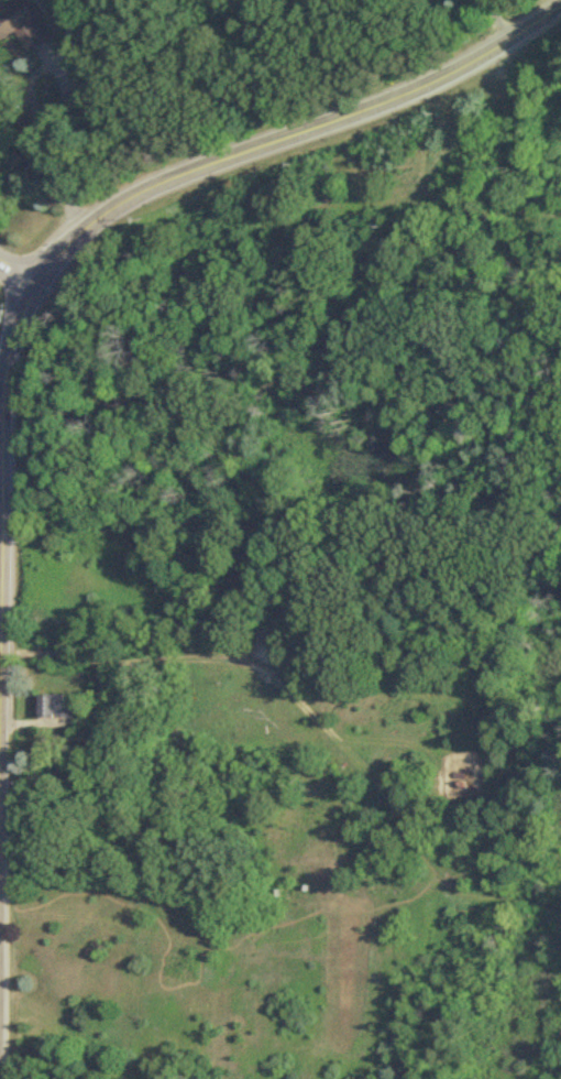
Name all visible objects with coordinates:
road: (496, 18)
building: (28, 24)
road: (52, 152)
road: (18, 276)
road: (10, 378)
road: (3, 547)
road: (3, 646)
park: (327, 646)
building: (57, 707)
road: (2, 710)
road: (309, 711)
road: (1, 860)
road: (1, 977)

